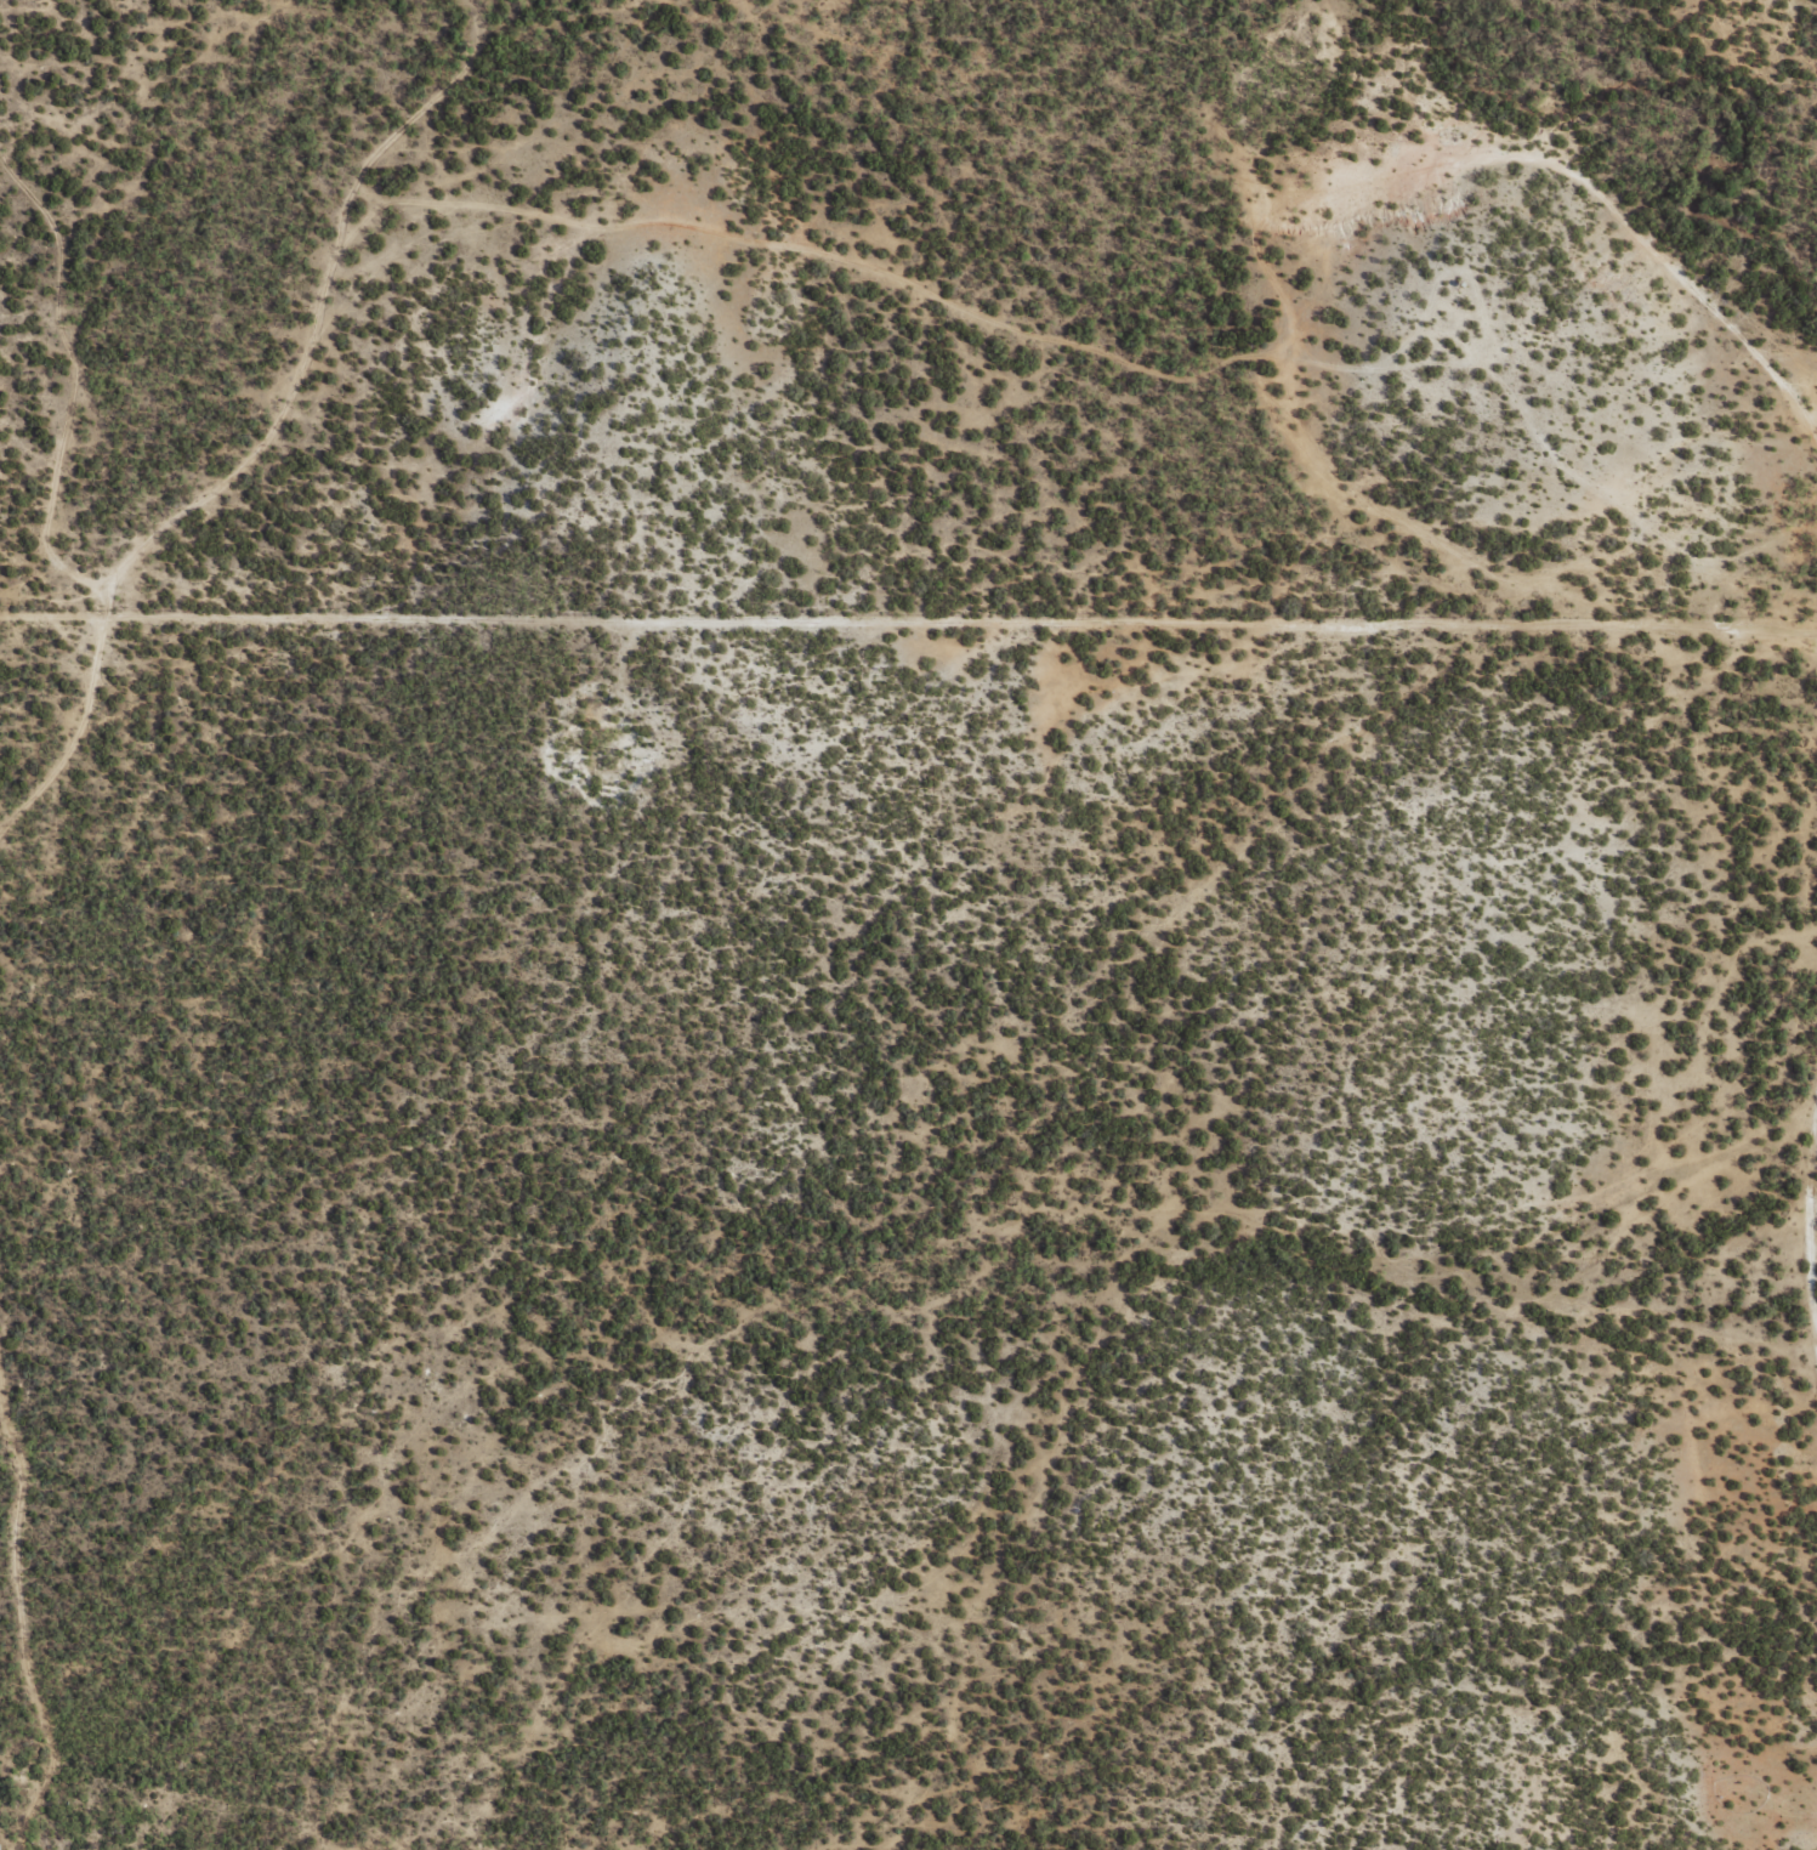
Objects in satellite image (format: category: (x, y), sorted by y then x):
road: (1524, 15)
road: (222, 158)
road: (47, 1689)

